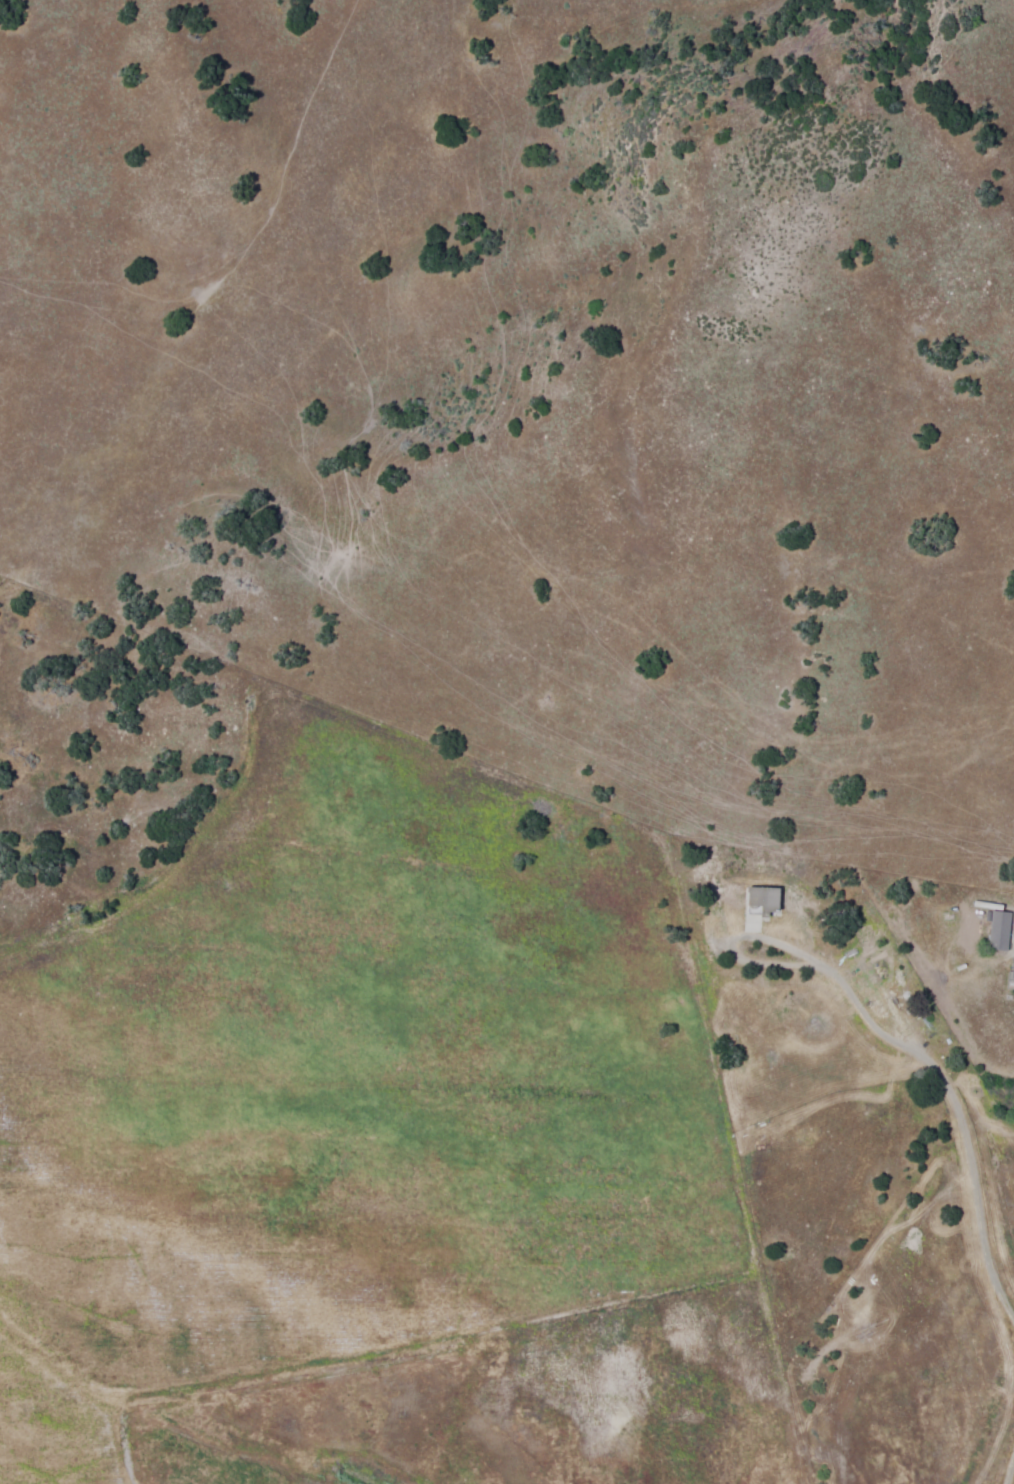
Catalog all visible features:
building: (762, 906)
building: (1001, 930)
building: (1013, 977)
road: (966, 1162)
crop: (189, 1360)
road: (1009, 1466)

